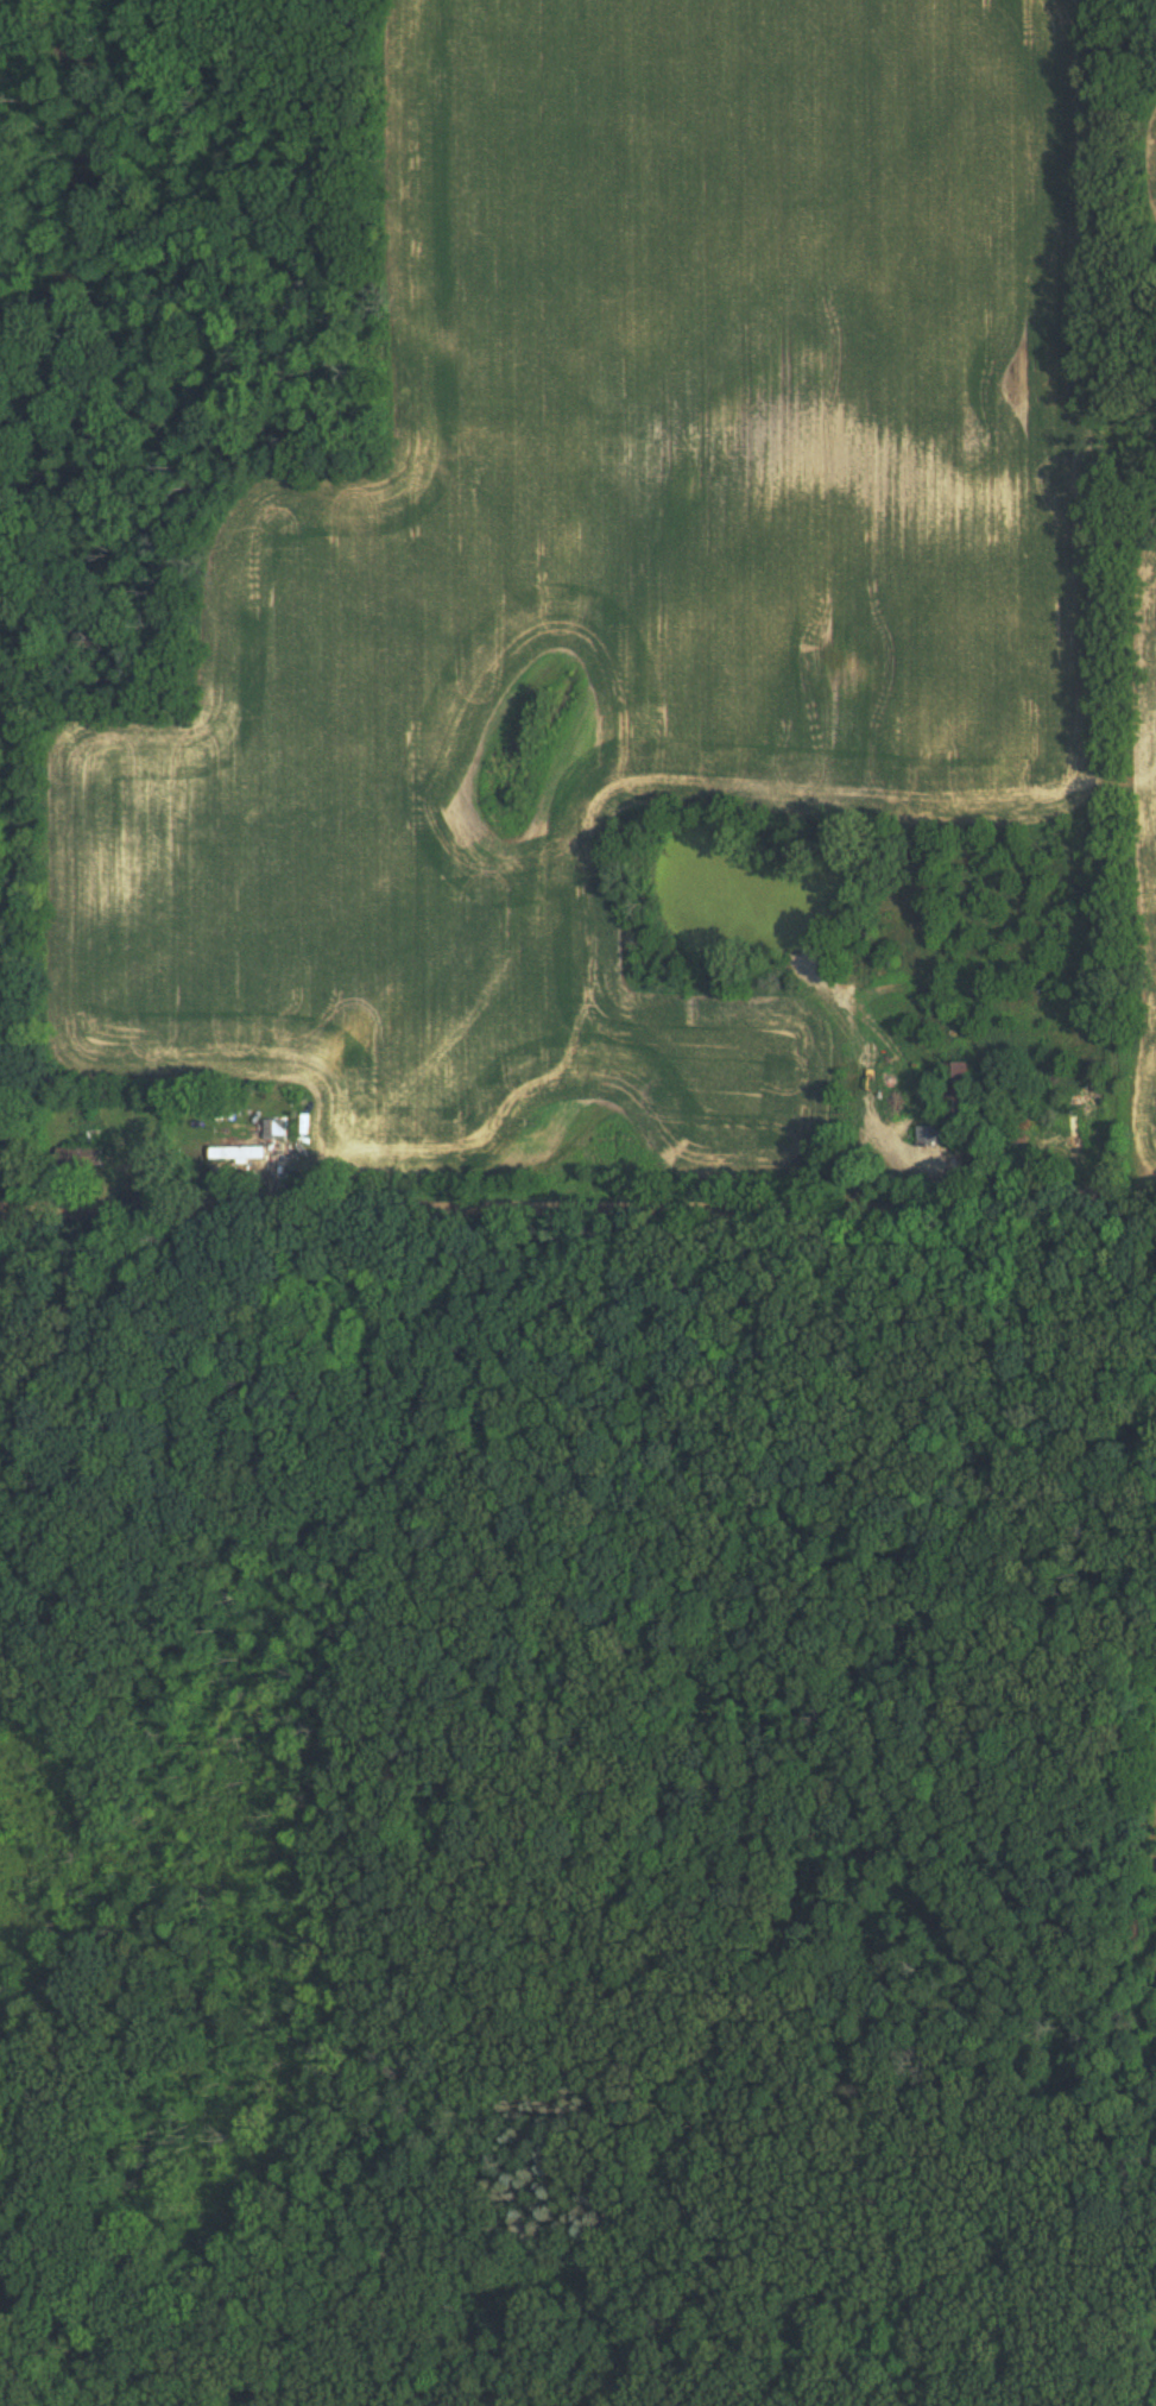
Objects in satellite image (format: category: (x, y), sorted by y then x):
building: (954, 1088)
building: (272, 1129)
building: (1073, 1133)
building: (922, 1147)
building: (236, 1154)
building: (77, 1157)
road: (577, 1214)

